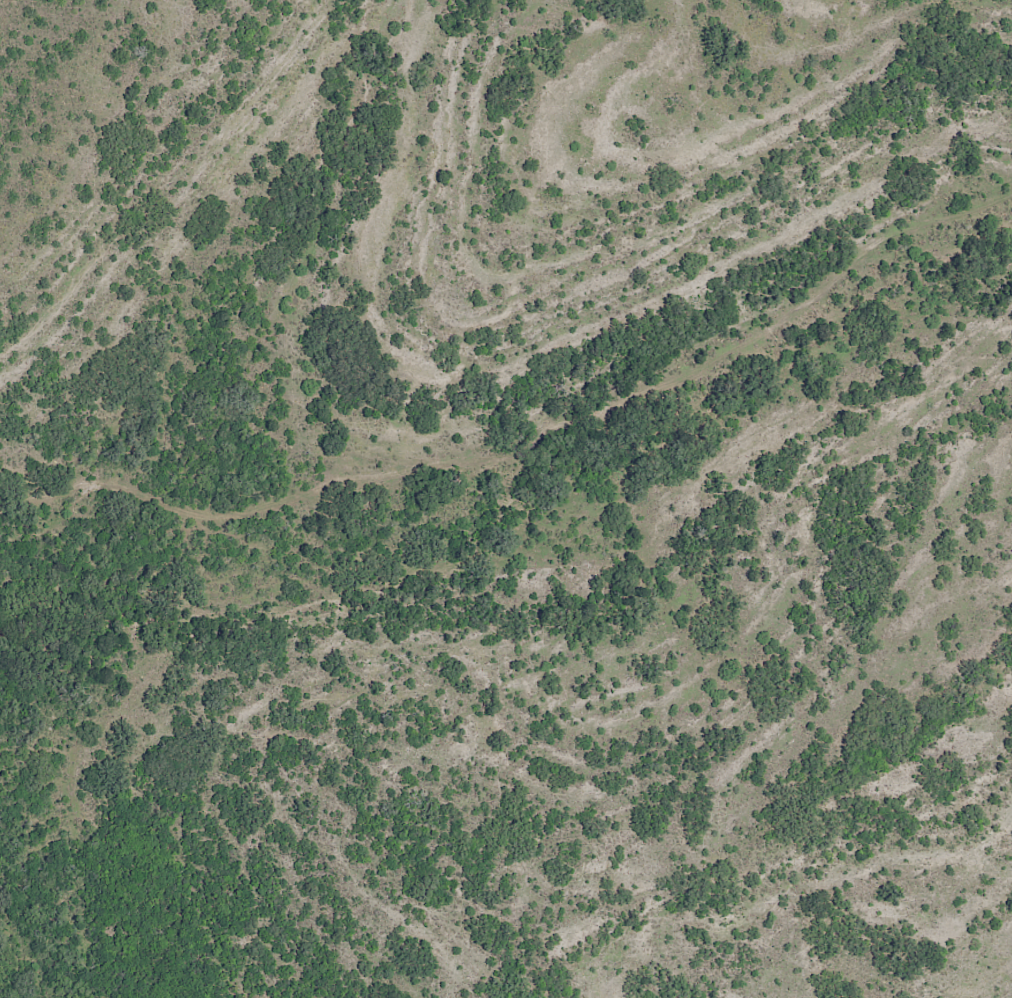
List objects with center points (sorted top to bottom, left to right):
road: (528, 500)
road: (131, 758)

